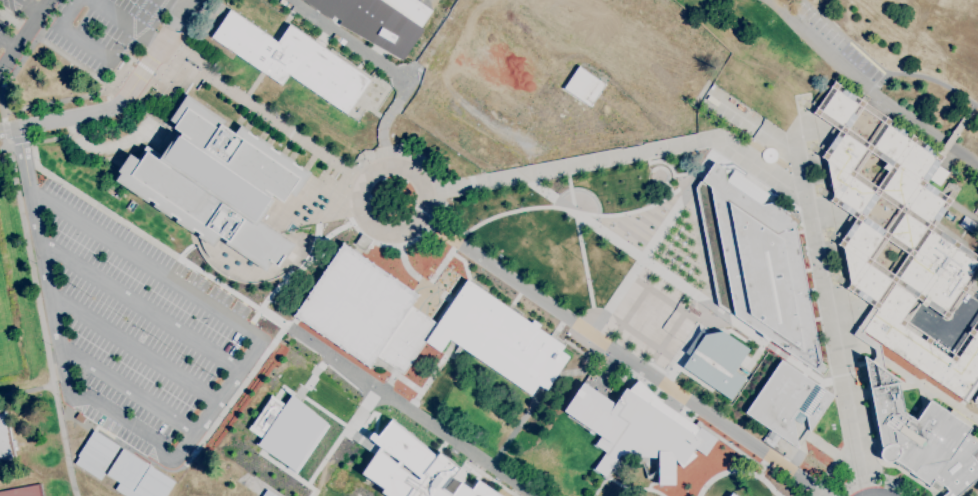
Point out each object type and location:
road: (32, 6)
road: (173, 7)
road: (68, 14)
building: (379, 20)
park: (928, 22)
road: (125, 24)
parking lot: (74, 31)
road: (24, 35)
road: (346, 40)
road: (433, 40)
road: (80, 42)
road: (7, 43)
road: (31, 46)
road: (154, 56)
building: (293, 60)
road: (143, 68)
road: (87, 73)
road: (926, 76)
building: (583, 86)
road: (871, 88)
road: (140, 97)
road: (1, 104)
road: (734, 112)
road: (263, 114)
road: (54, 119)
road: (385, 120)
road: (4, 125)
road: (778, 137)
road: (3, 142)
road: (20, 142)
road: (447, 144)
road: (401, 150)
road: (22, 159)
road: (591, 164)
building: (938, 176)
building: (218, 183)
road: (357, 206)
road: (550, 207)
building: (968, 225)
road: (659, 233)
building: (900, 241)
building: (363, 242)
road: (315, 247)
road: (581, 247)
road: (383, 248)
road: (140, 262)
building: (757, 263)
road: (42, 265)
road: (408, 271)
road: (220, 283)
road: (685, 287)
road: (137, 306)
road: (39, 316)
building: (424, 324)
road: (833, 326)
parking lot: (143, 330)
park: (7, 335)
building: (870, 338)
road: (131, 348)
road: (250, 352)
road: (627, 358)
building: (716, 361)
road: (125, 388)
road: (26, 392)
building: (976, 399)
building: (788, 402)
road: (214, 403)
road: (74, 409)
road: (410, 409)
building: (79, 416)
road: (114, 416)
building: (287, 428)
building: (638, 430)
building: (923, 437)
building: (5, 440)
road: (127, 446)
building: (96, 453)
building: (417, 467)
building: (137, 476)
road: (876, 481)
building: (268, 493)
building: (727, 495)
building: (732, 495)

